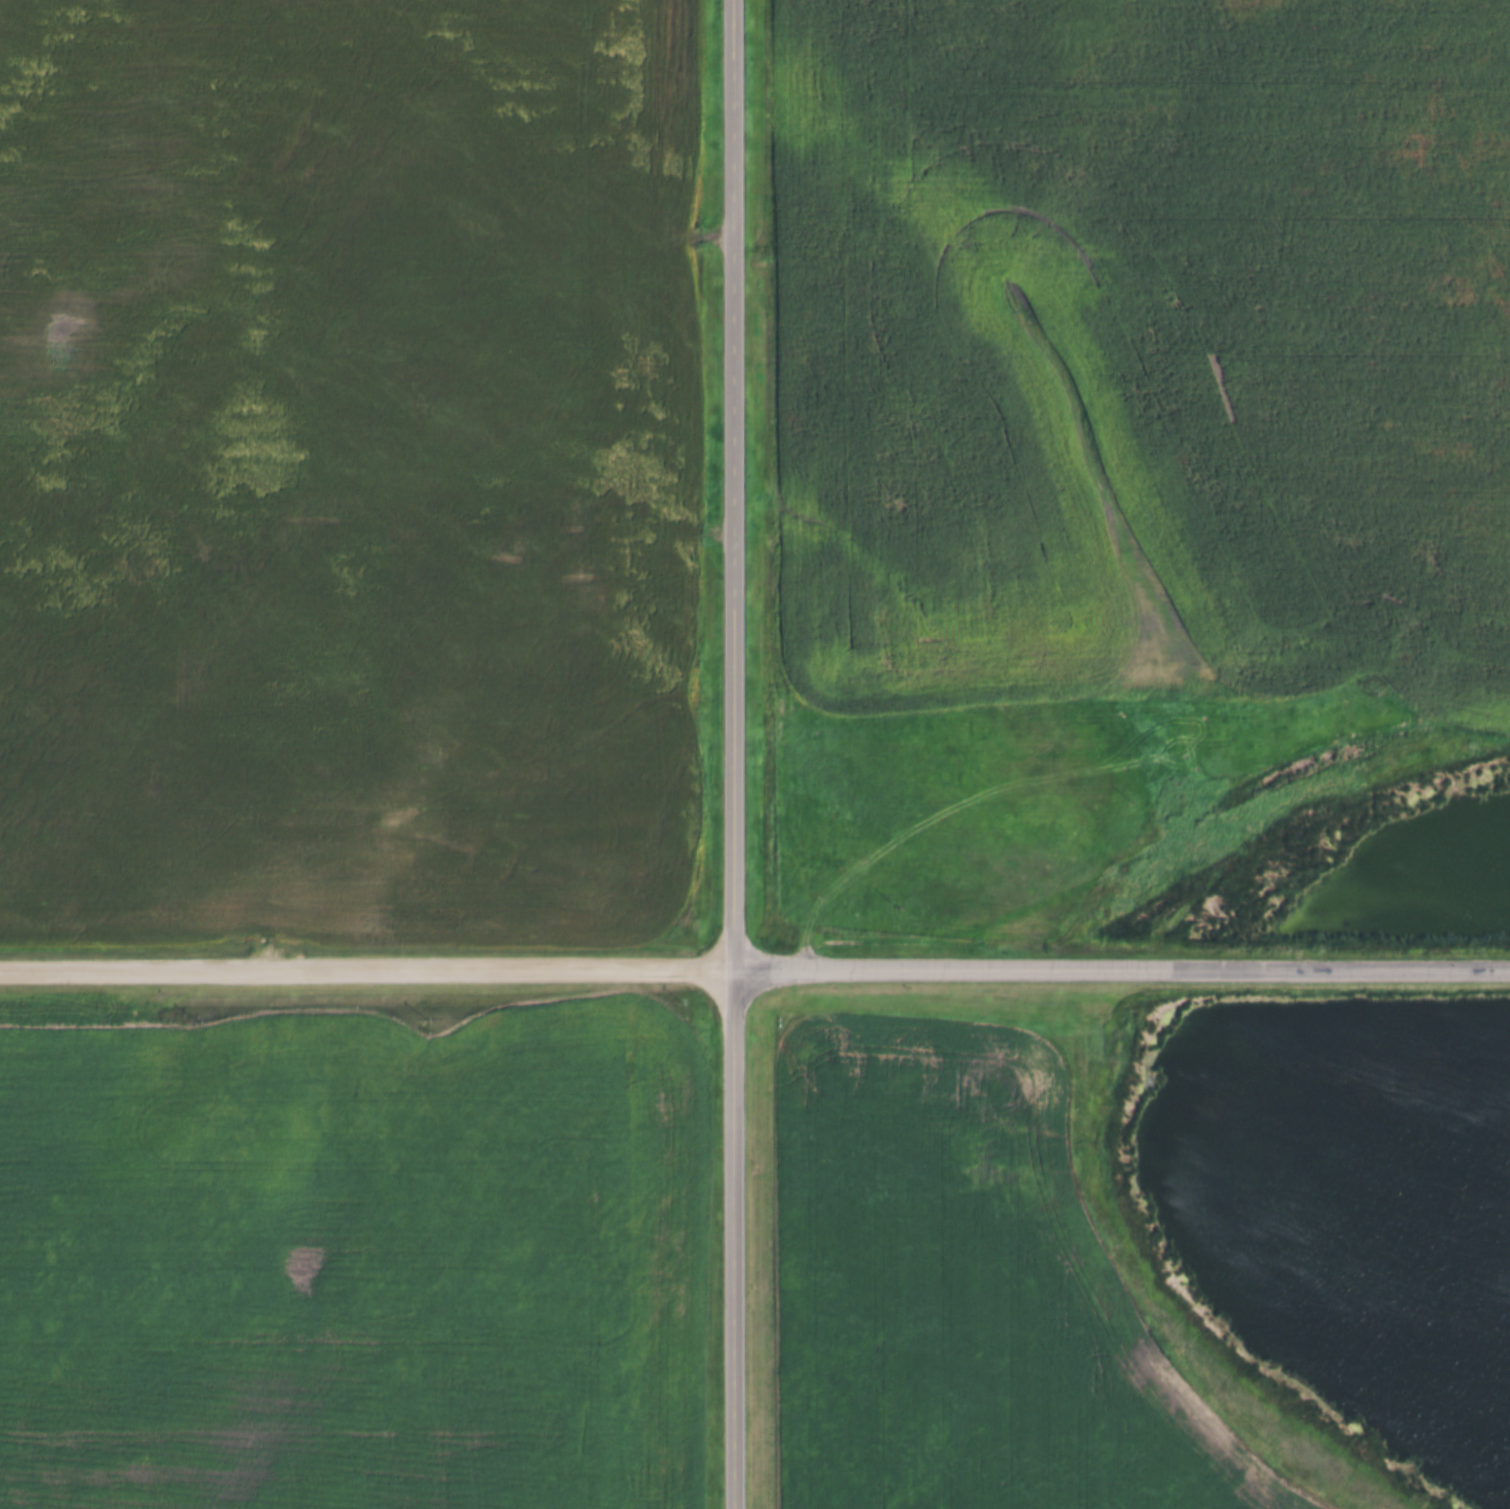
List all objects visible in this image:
road: (732, 754)
road: (1121, 967)
road: (366, 968)

